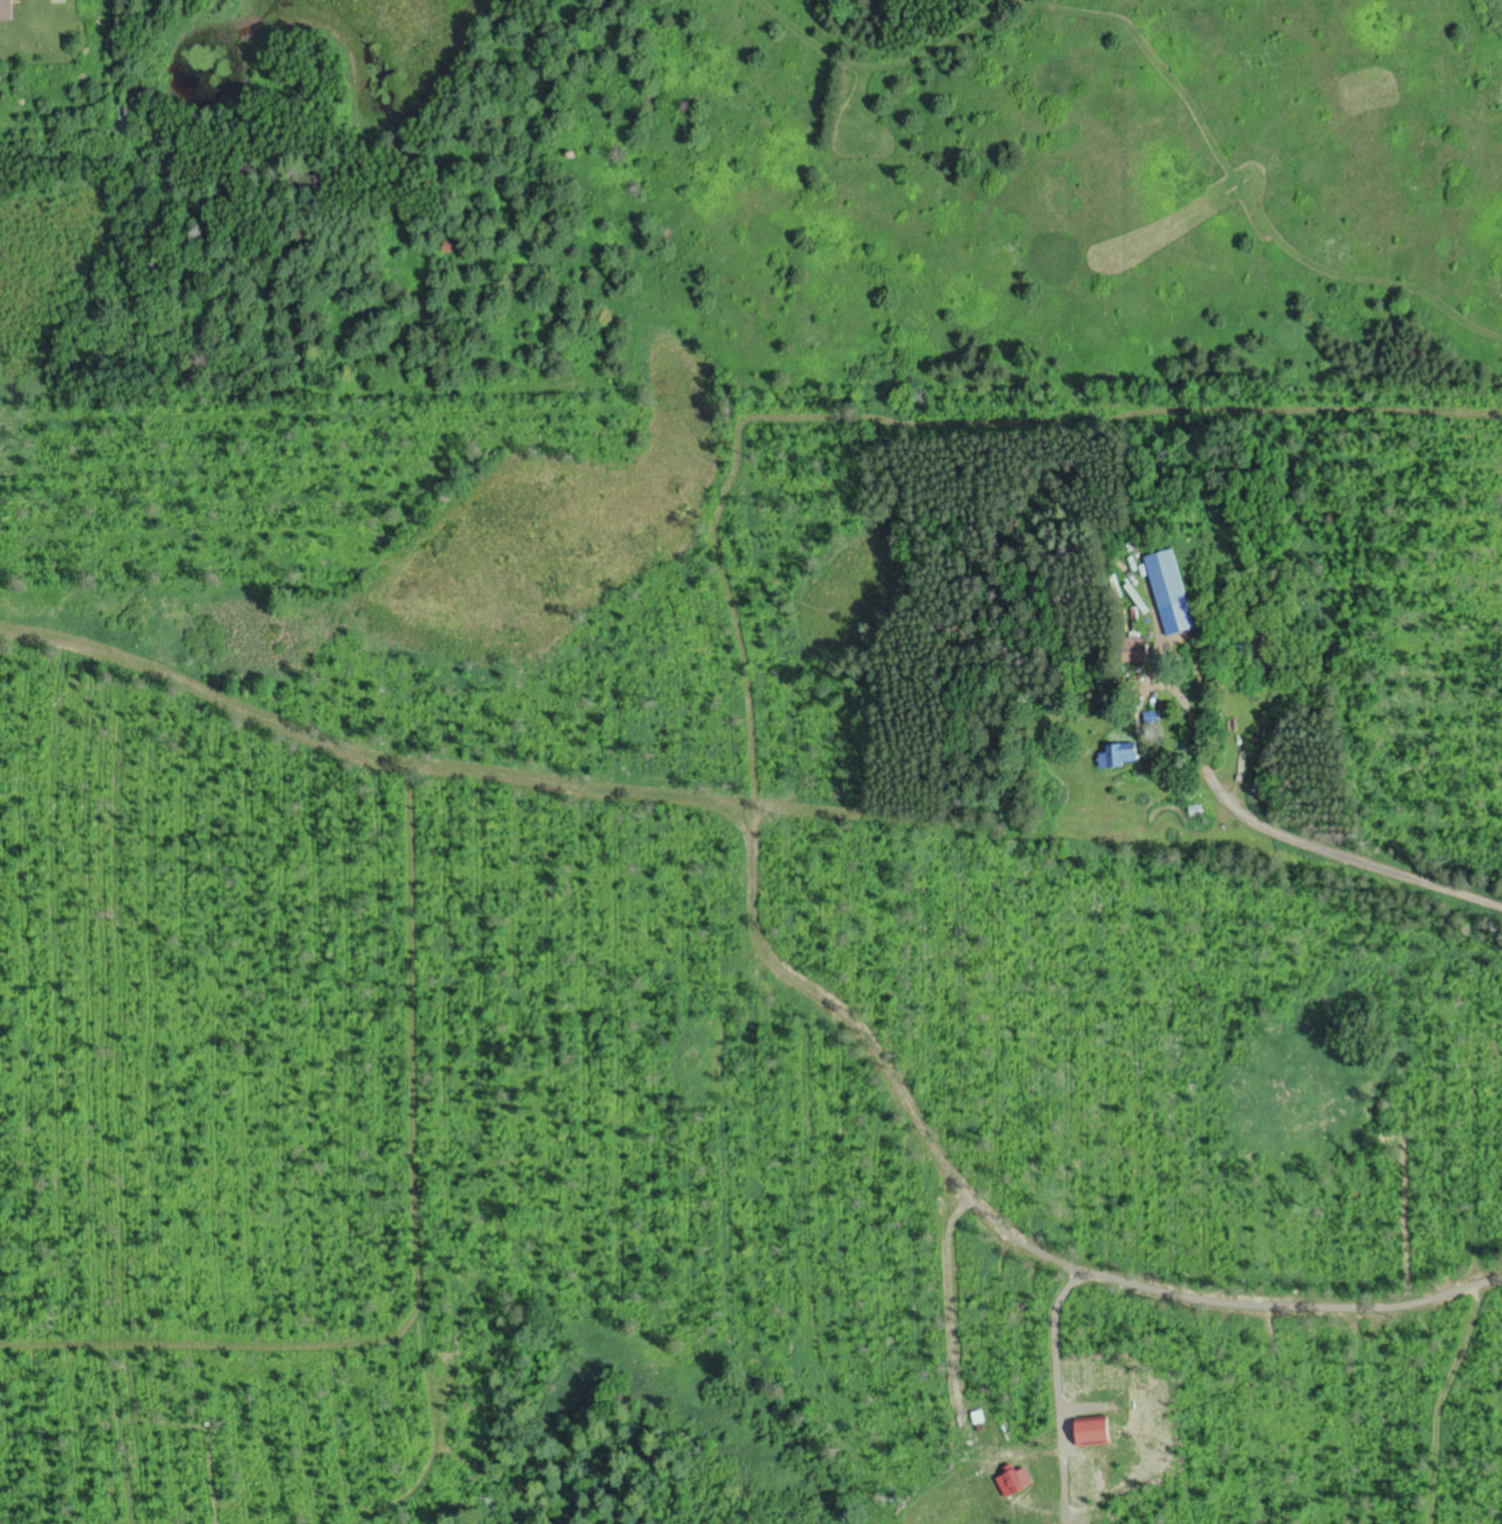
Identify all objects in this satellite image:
building: (8, 10)
building: (1169, 576)
building: (1127, 753)
building: (1200, 809)

